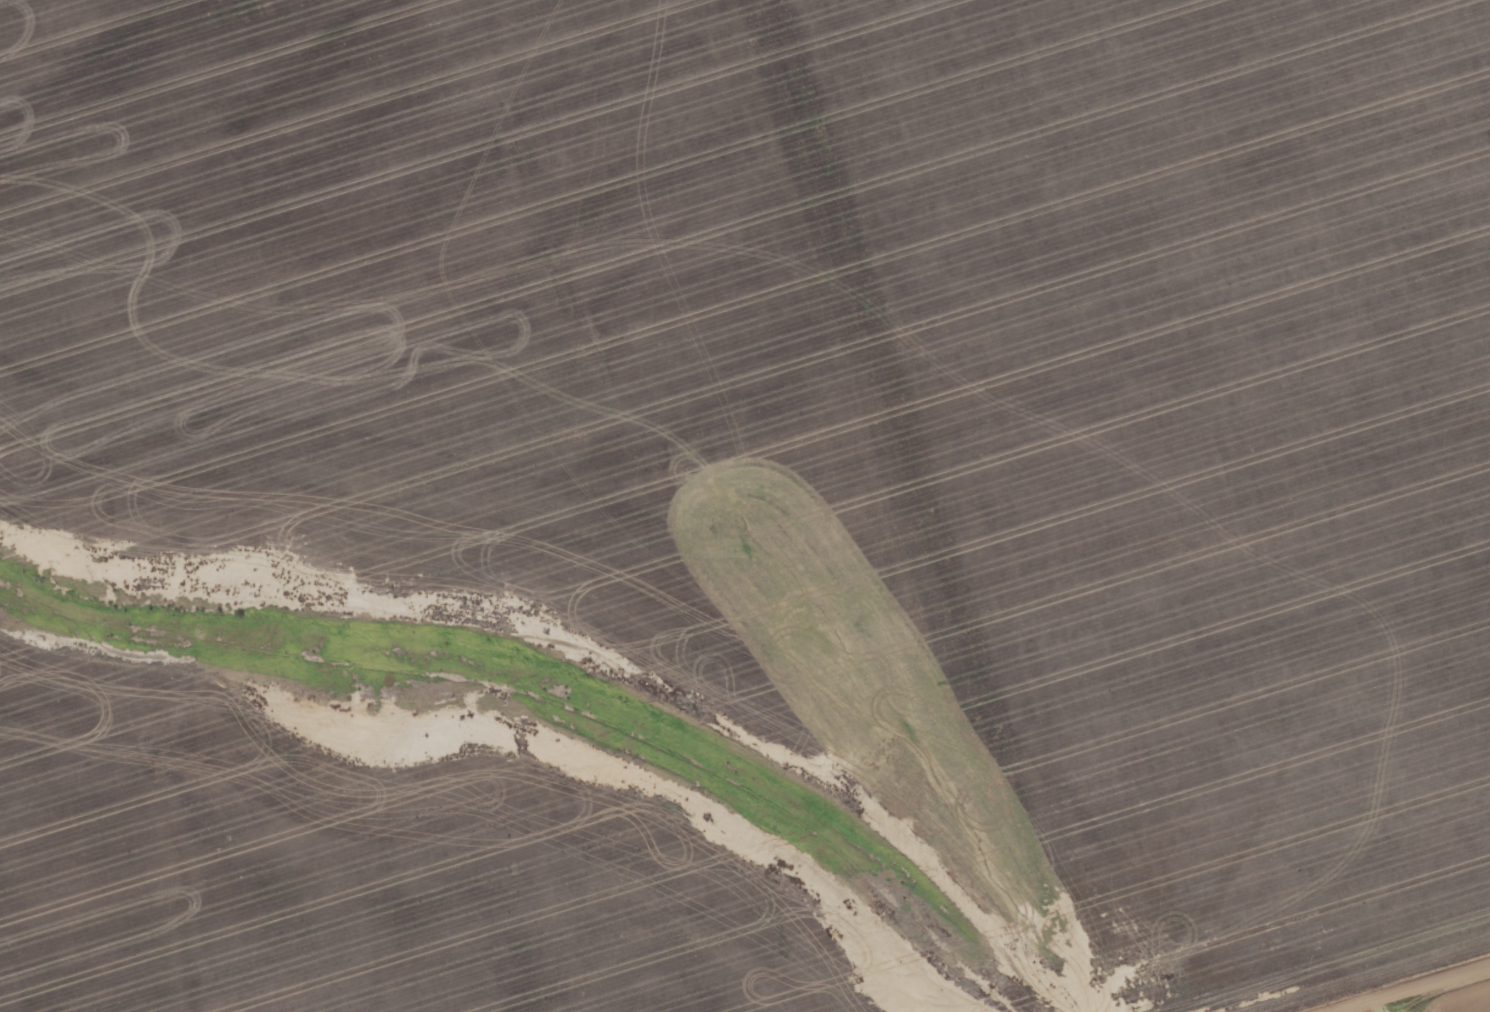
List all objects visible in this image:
road: (1410, 987)

